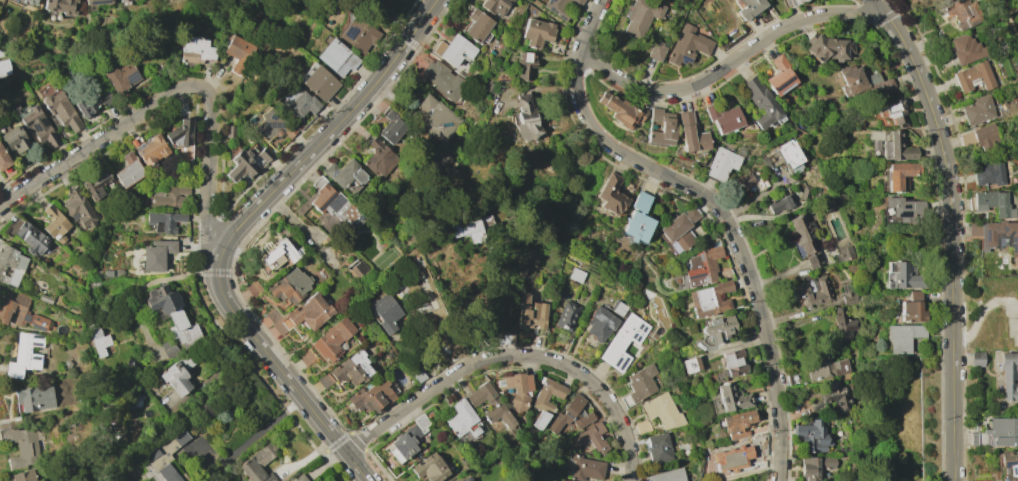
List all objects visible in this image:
building: (161, 0)
building: (30, 2)
building: (125, 2)
building: (576, 2)
building: (794, 2)
building: (94, 4)
building: (495, 5)
building: (60, 6)
building: (1017, 6)
building: (556, 8)
building: (749, 8)
park: (382, 11)
building: (963, 12)
road: (398, 16)
building: (641, 16)
building: (477, 26)
building: (537, 32)
building: (356, 33)
building: (687, 46)
building: (826, 48)
building: (454, 49)
building: (967, 49)
building: (196, 50)
building: (2, 51)
building: (656, 51)
building: (238, 53)
building: (336, 56)
road: (730, 63)
building: (525, 65)
building: (4, 67)
building: (780, 76)
building: (973, 76)
building: (121, 77)
building: (444, 80)
building: (864, 81)
building: (318, 82)
building: (761, 102)
building: (301, 105)
building: (59, 106)
building: (85, 106)
road: (151, 106)
building: (978, 109)
building: (621, 110)
building: (895, 111)
building: (524, 118)
building: (723, 118)
building: (436, 119)
building: (269, 124)
road: (336, 124)
building: (36, 125)
building: (391, 126)
building: (661, 128)
building: (179, 133)
building: (690, 134)
building: (981, 138)
building: (14, 140)
building: (900, 147)
building: (151, 149)
building: (789, 153)
road: (208, 157)
building: (379, 157)
building: (3, 159)
building: (247, 162)
building: (721, 163)
road: (59, 166)
building: (128, 170)
building: (344, 173)
building: (988, 173)
building: (900, 174)
building: (95, 183)
building: (805, 192)
building: (611, 194)
building: (171, 198)
building: (330, 201)
building: (993, 203)
building: (779, 204)
building: (79, 208)
building: (904, 208)
road: (717, 209)
road: (199, 218)
building: (637, 219)
building: (164, 221)
building: (54, 223)
building: (680, 228)
building: (467, 229)
road: (190, 232)
road: (951, 232)
building: (997, 235)
building: (28, 236)
road: (429, 238)
building: (804, 238)
road: (208, 244)
building: (846, 253)
building: (156, 254)
building: (278, 254)
park: (385, 259)
building: (10, 265)
building: (702, 265)
road: (205, 270)
building: (356, 271)
building: (118, 272)
road: (208, 272)
building: (107, 273)
building: (576, 275)
building: (906, 276)
building: (290, 285)
building: (252, 287)
building: (813, 292)
road: (136, 294)
building: (848, 294)
building: (44, 298)
building: (710, 298)
road: (991, 306)
building: (618, 308)
building: (911, 308)
building: (309, 311)
building: (20, 312)
building: (384, 312)
building: (530, 312)
building: (172, 314)
building: (567, 315)
building: (600, 323)
building: (842, 324)
building: (717, 328)
road: (236, 333)
building: (902, 337)
building: (332, 338)
building: (98, 339)
building: (622, 341)
building: (169, 349)
building: (23, 354)
building: (306, 356)
road: (512, 356)
building: (976, 358)
building: (733, 362)
building: (67, 365)
building: (635, 365)
building: (690, 365)
road: (275, 366)
building: (351, 368)
road: (252, 369)
building: (826, 369)
building: (417, 374)
building: (1009, 376)
building: (175, 378)
building: (324, 379)
building: (640, 383)
building: (516, 389)
building: (731, 397)
building: (34, 398)
building: (832, 398)
building: (368, 399)
building: (490, 403)
building: (540, 403)
road: (293, 405)
building: (662, 410)
building: (569, 414)
building: (462, 419)
building: (736, 423)
building: (642, 426)
building: (1003, 431)
building: (812, 436)
road: (253, 437)
building: (593, 438)
building: (973, 438)
building: (225, 439)
building: (407, 439)
road: (339, 441)
road: (323, 443)
building: (658, 446)
building: (22, 447)
road: (333, 456)
building: (167, 457)
building: (732, 458)
building: (258, 464)
building: (1008, 464)
building: (814, 466)
building: (429, 467)
building: (584, 468)
road: (351, 475)
building: (667, 475)
building: (22, 476)
building: (299, 478)
building: (465, 479)
building: (457, 480)
building: (468, 480)

